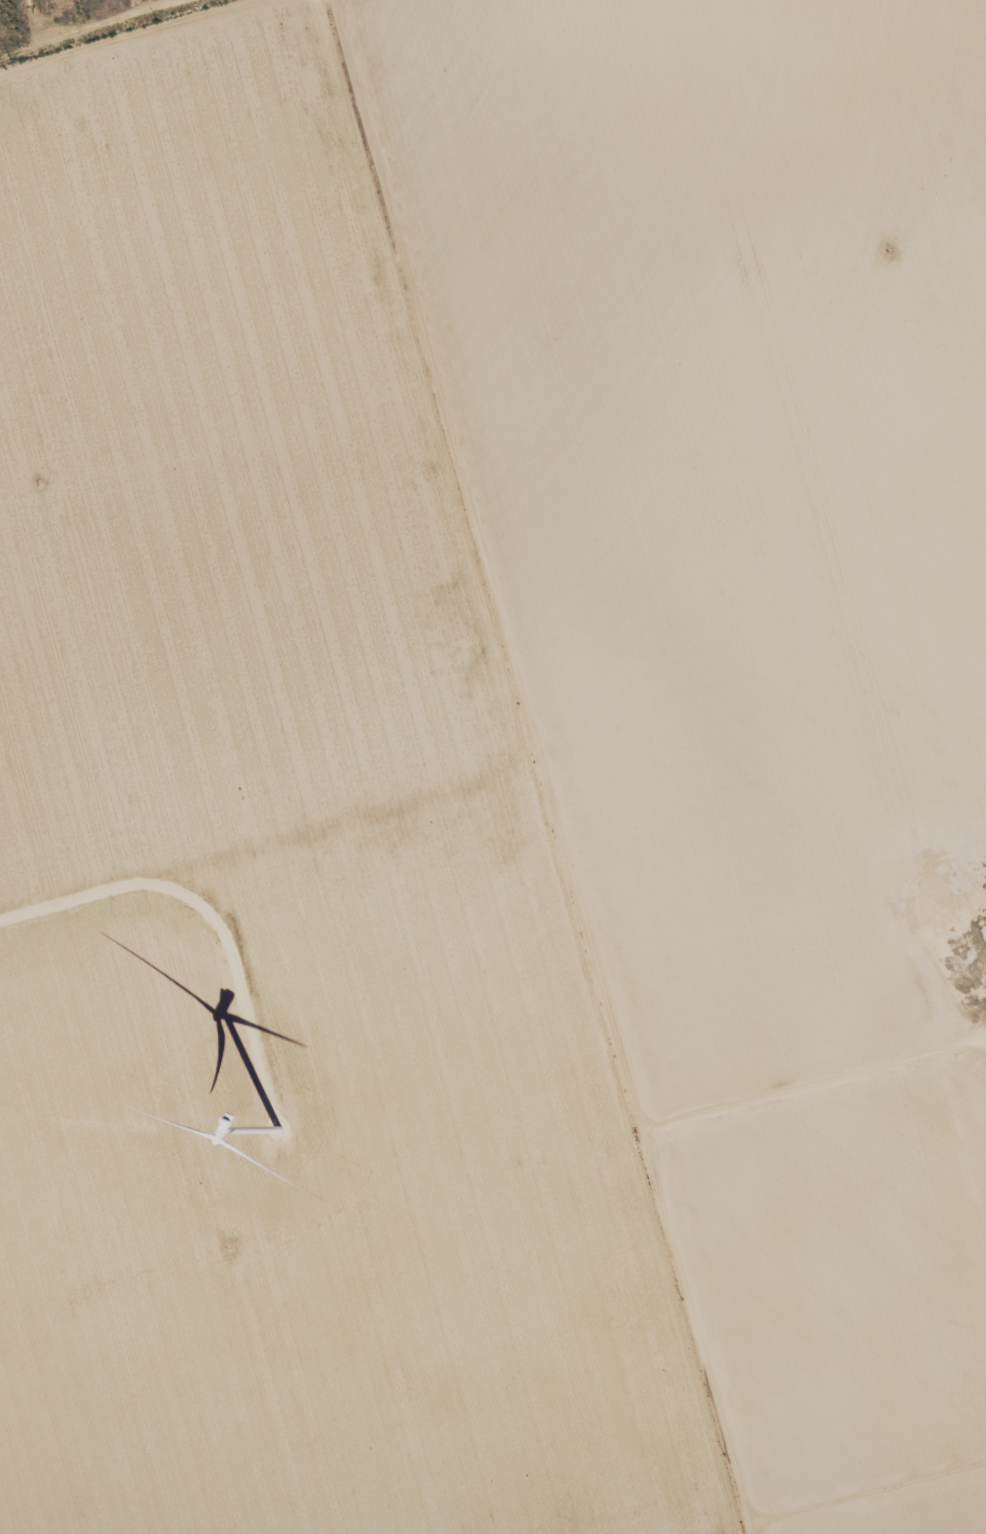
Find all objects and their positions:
road: (953, 144)
road: (164, 164)
road: (673, 233)
road: (518, 770)
wind turbine: (277, 1133)
road: (817, 1142)

